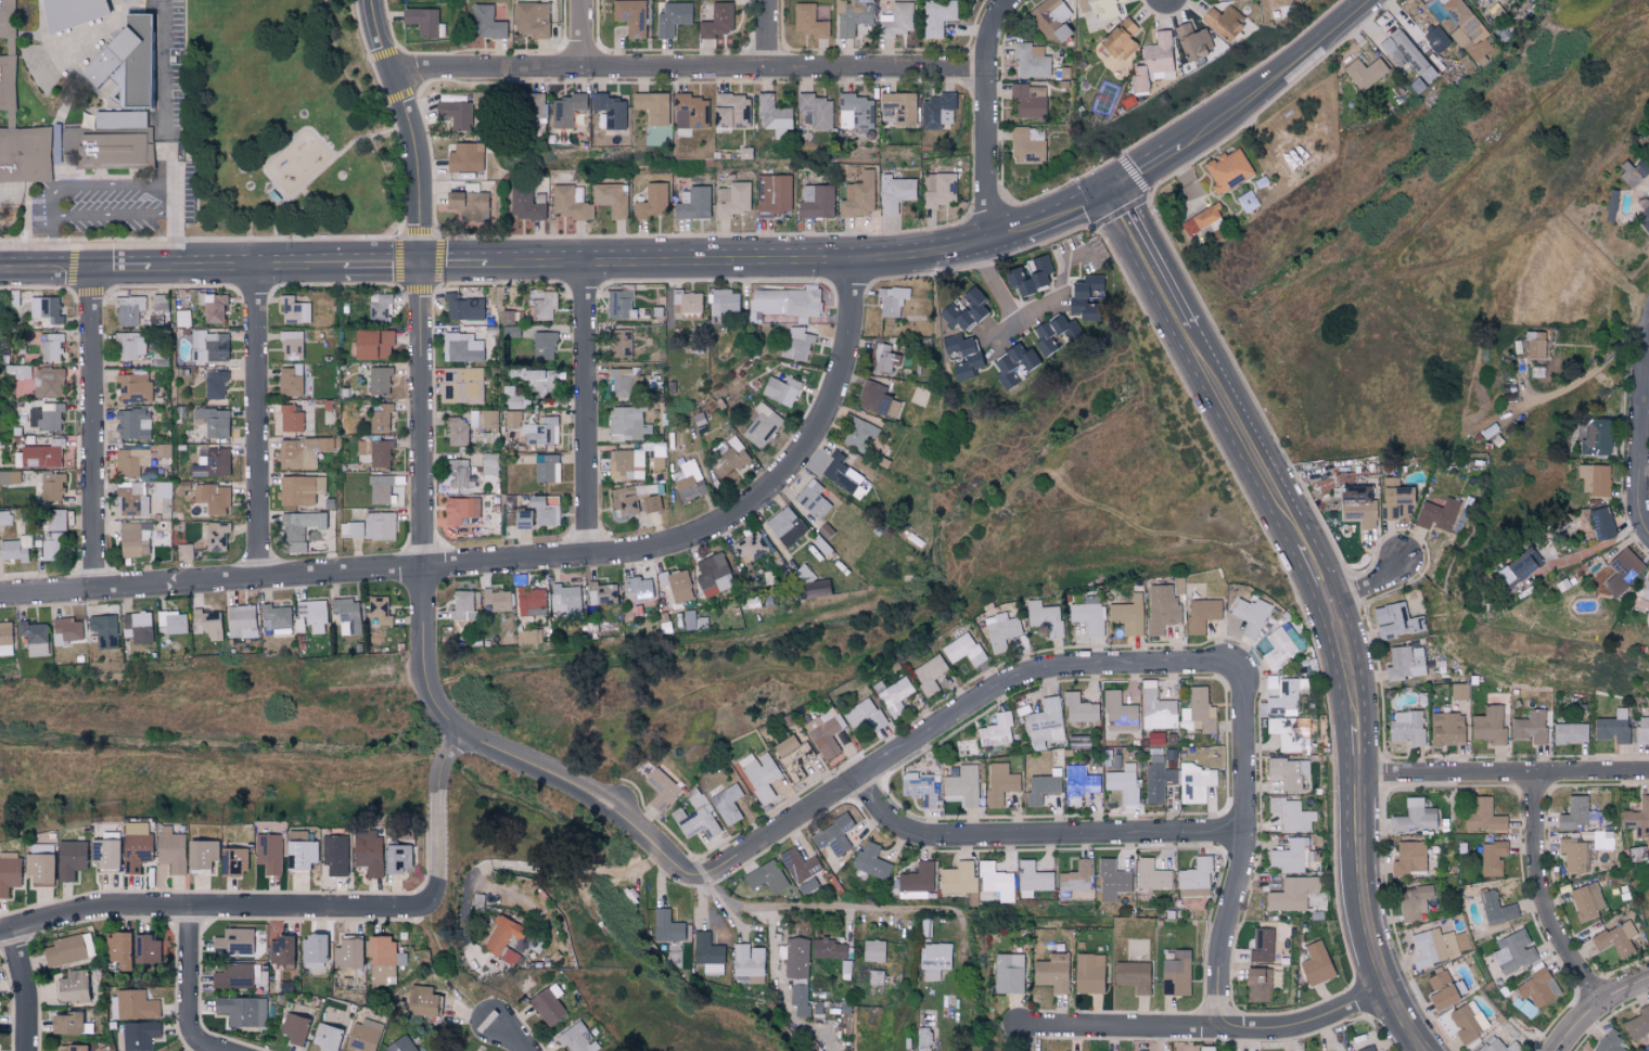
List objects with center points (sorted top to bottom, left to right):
building: (1475, 0)
building: (1099, 11)
building: (77, 16)
building: (630, 16)
building: (937, 16)
building: (672, 17)
building: (532, 18)
building: (853, 18)
building: (421, 20)
building: (9, 21)
building: (716, 21)
building: (807, 21)
building: (896, 21)
building: (1223, 21)
building: (486, 22)
building: (1468, 30)
road: (587, 33)
road: (768, 33)
building: (1120, 39)
building: (1192, 40)
building: (1404, 52)
building: (1031, 60)
building: (1153, 62)
road: (689, 66)
building: (1365, 72)
road: (1280, 75)
building: (10, 87)
road: (164, 98)
building: (1026, 103)
building: (652, 107)
building: (898, 108)
building: (566, 110)
building: (610, 111)
building: (730, 111)
building: (816, 111)
building: (937, 111)
building: (690, 112)
building: (855, 112)
building: (455, 113)
building: (534, 113)
road: (988, 115)
building: (774, 116)
park: (284, 121)
building: (98, 123)
road: (410, 128)
building: (1648, 138)
building: (1026, 146)
road: (283, 148)
building: (464, 157)
road: (1140, 161)
building: (1227, 169)
building: (1633, 172)
road: (316, 175)
traffic signals: (1103, 183)
road: (110, 188)
building: (939, 189)
building: (772, 194)
building: (895, 194)
building: (272, 195)
building: (610, 198)
building: (732, 200)
building: (857, 200)
building: (650, 201)
building: (816, 202)
building: (525, 203)
building: (567, 203)
building: (466, 204)
building: (692, 204)
road: (1046, 209)
road: (113, 217)
building: (1200, 219)
building: (1644, 220)
road: (175, 241)
road: (53, 243)
road: (738, 261)
road: (382, 264)
traffic signals: (421, 264)
road: (452, 264)
road: (218, 266)
road: (26, 268)
road: (73, 268)
building: (1028, 275)
building: (1084, 296)
building: (892, 299)
building: (156, 302)
building: (686, 302)
building: (725, 302)
building: (542, 304)
building: (619, 305)
building: (379, 306)
building: (46, 308)
building: (462, 308)
building: (128, 309)
building: (213, 309)
building: (295, 310)
building: (964, 310)
road: (1026, 319)
building: (1054, 333)
building: (618, 343)
building: (371, 344)
building: (1534, 344)
building: (130, 345)
building: (291, 345)
building: (544, 345)
building: (797, 345)
building: (51, 346)
building: (209, 346)
building: (461, 347)
building: (960, 355)
building: (883, 359)
building: (1014, 366)
building: (20, 371)
building: (1536, 371)
building: (379, 380)
building: (49, 382)
building: (294, 382)
building: (540, 382)
building: (621, 382)
building: (215, 385)
building: (460, 386)
building: (135, 388)
building: (779, 389)
building: (877, 399)
road: (586, 411)
building: (46, 416)
building: (381, 418)
building: (291, 419)
building: (512, 420)
building: (214, 422)
road: (257, 423)
building: (133, 424)
building: (627, 424)
building: (763, 425)
road: (95, 430)
building: (456, 431)
building: (539, 431)
building: (858, 434)
building: (1596, 437)
building: (375, 452)
building: (40, 457)
building: (728, 457)
building: (130, 461)
road: (1644, 461)
building: (210, 462)
building: (489, 463)
building: (626, 464)
building: (542, 466)
building: (457, 472)
building: (841, 474)
building: (9, 477)
building: (1594, 479)
building: (689, 482)
building: (52, 486)
building: (163, 489)
building: (380, 489)
building: (301, 490)
building: (132, 498)
building: (213, 498)
building: (636, 499)
building: (811, 499)
building: (1395, 500)
building: (1357, 505)
road: (426, 508)
building: (459, 510)
building: (544, 511)
building: (1437, 514)
building: (4, 517)
building: (521, 518)
building: (55, 520)
building: (1601, 523)
building: (379, 526)
building: (785, 526)
building: (301, 529)
building: (351, 529)
building: (216, 536)
building: (133, 539)
building: (50, 546)
building: (750, 547)
building: (12, 551)
road: (520, 564)
building: (1518, 566)
building: (1623, 571)
building: (804, 574)
building: (713, 575)
building: (676, 585)
building: (1178, 586)
road: (1372, 587)
building: (637, 588)
building: (1646, 591)
building: (601, 593)
road: (1329, 598)
building: (497, 600)
building: (565, 600)
building: (531, 602)
building: (462, 605)
building: (1161, 608)
building: (380, 611)
building: (312, 614)
building: (1087, 614)
building: (1128, 614)
building: (1201, 614)
building: (346, 615)
building: (1250, 616)
building: (1045, 617)
building: (276, 619)
building: (1395, 620)
building: (241, 621)
building: (171, 623)
building: (206, 624)
building: (137, 627)
building: (66, 630)
building: (103, 630)
building: (1000, 631)
building: (34, 638)
building: (5, 639)
building: (1282, 645)
building: (963, 650)
building: (1405, 663)
building: (930, 674)
building: (1459, 691)
building: (894, 695)
building: (1286, 696)
building: (1156, 708)
building: (1078, 709)
building: (1118, 713)
building: (865, 715)
building: (1488, 722)
building: (1046, 723)
building: (1407, 727)
building: (1530, 727)
building: (1613, 727)
building: (1446, 729)
building: (997, 730)
building: (1642, 730)
building: (1290, 733)
building: (1570, 733)
building: (823, 734)
building: (789, 749)
building: (1289, 771)
road: (1501, 772)
building: (759, 774)
building: (1158, 782)
building: (999, 783)
building: (1196, 783)
building: (1079, 784)
building: (963, 785)
building: (919, 789)
building: (1040, 789)
building: (661, 790)
road: (835, 797)
building: (728, 804)
building: (1577, 813)
building: (1291, 815)
road: (438, 817)
building: (1415, 817)
building: (1483, 817)
building: (1637, 818)
building: (696, 819)
building: (832, 835)
road: (1040, 836)
building: (136, 845)
road: (1243, 848)
building: (170, 849)
building: (301, 850)
building: (268, 853)
building: (1576, 854)
building: (104, 855)
building: (201, 855)
building: (335, 855)
building: (368, 855)
building: (1291, 856)
building: (1409, 858)
building: (1492, 858)
building: (69, 859)
building: (396, 859)
building: (234, 861)
building: (870, 861)
building: (38, 866)
building: (798, 866)
road: (573, 869)
building: (9, 872)
building: (1196, 875)
building: (1152, 876)
building: (766, 877)
building: (1076, 877)
building: (1033, 879)
building: (960, 880)
building: (1112, 880)
building: (996, 881)
building: (917, 882)
building: (1292, 894)
road: (1538, 895)
road: (718, 902)
building: (1414, 902)
building: (1587, 902)
road: (214, 908)
building: (1495, 908)
road: (829, 911)
building: (1648, 922)
building: (666, 927)
building: (1615, 939)
building: (234, 940)
building: (501, 940)
building: (1262, 946)
building: (1433, 947)
building: (118, 949)
building: (827, 949)
building: (68, 950)
building: (146, 950)
building: (873, 951)
building: (280, 952)
building: (312, 952)
building: (1513, 952)
building: (707, 953)
building: (347, 954)
building: (796, 958)
building: (382, 960)
building: (934, 960)
building: (746, 961)
building: (1316, 964)
building: (1051, 973)
building: (1009, 974)
building: (1088, 974)
building: (1176, 974)
building: (233, 976)
building: (1133, 976)
building: (1439, 979)
building: (1257, 985)
building: (72, 987)
road: (193, 987)
building: (1538, 987)
road: (27, 990)
building: (1446, 996)
building: (800, 999)
building: (421, 1002)
building: (133, 1005)
building: (547, 1007)
building: (1523, 1007)
road: (1595, 1007)
building: (242, 1011)
building: (332, 1021)
building: (1468, 1022)
building: (66, 1024)
building: (293, 1028)
road: (1207, 1028)
road: (511, 1035)
building: (140, 1036)
building: (363, 1036)
building: (923, 1036)
building: (327, 1038)
building: (576, 1038)
building: (1609, 1041)
building: (400, 1044)
building: (1495, 1046)
building: (72, 1048)
building: (1206, 1048)
building: (1368, 1049)

